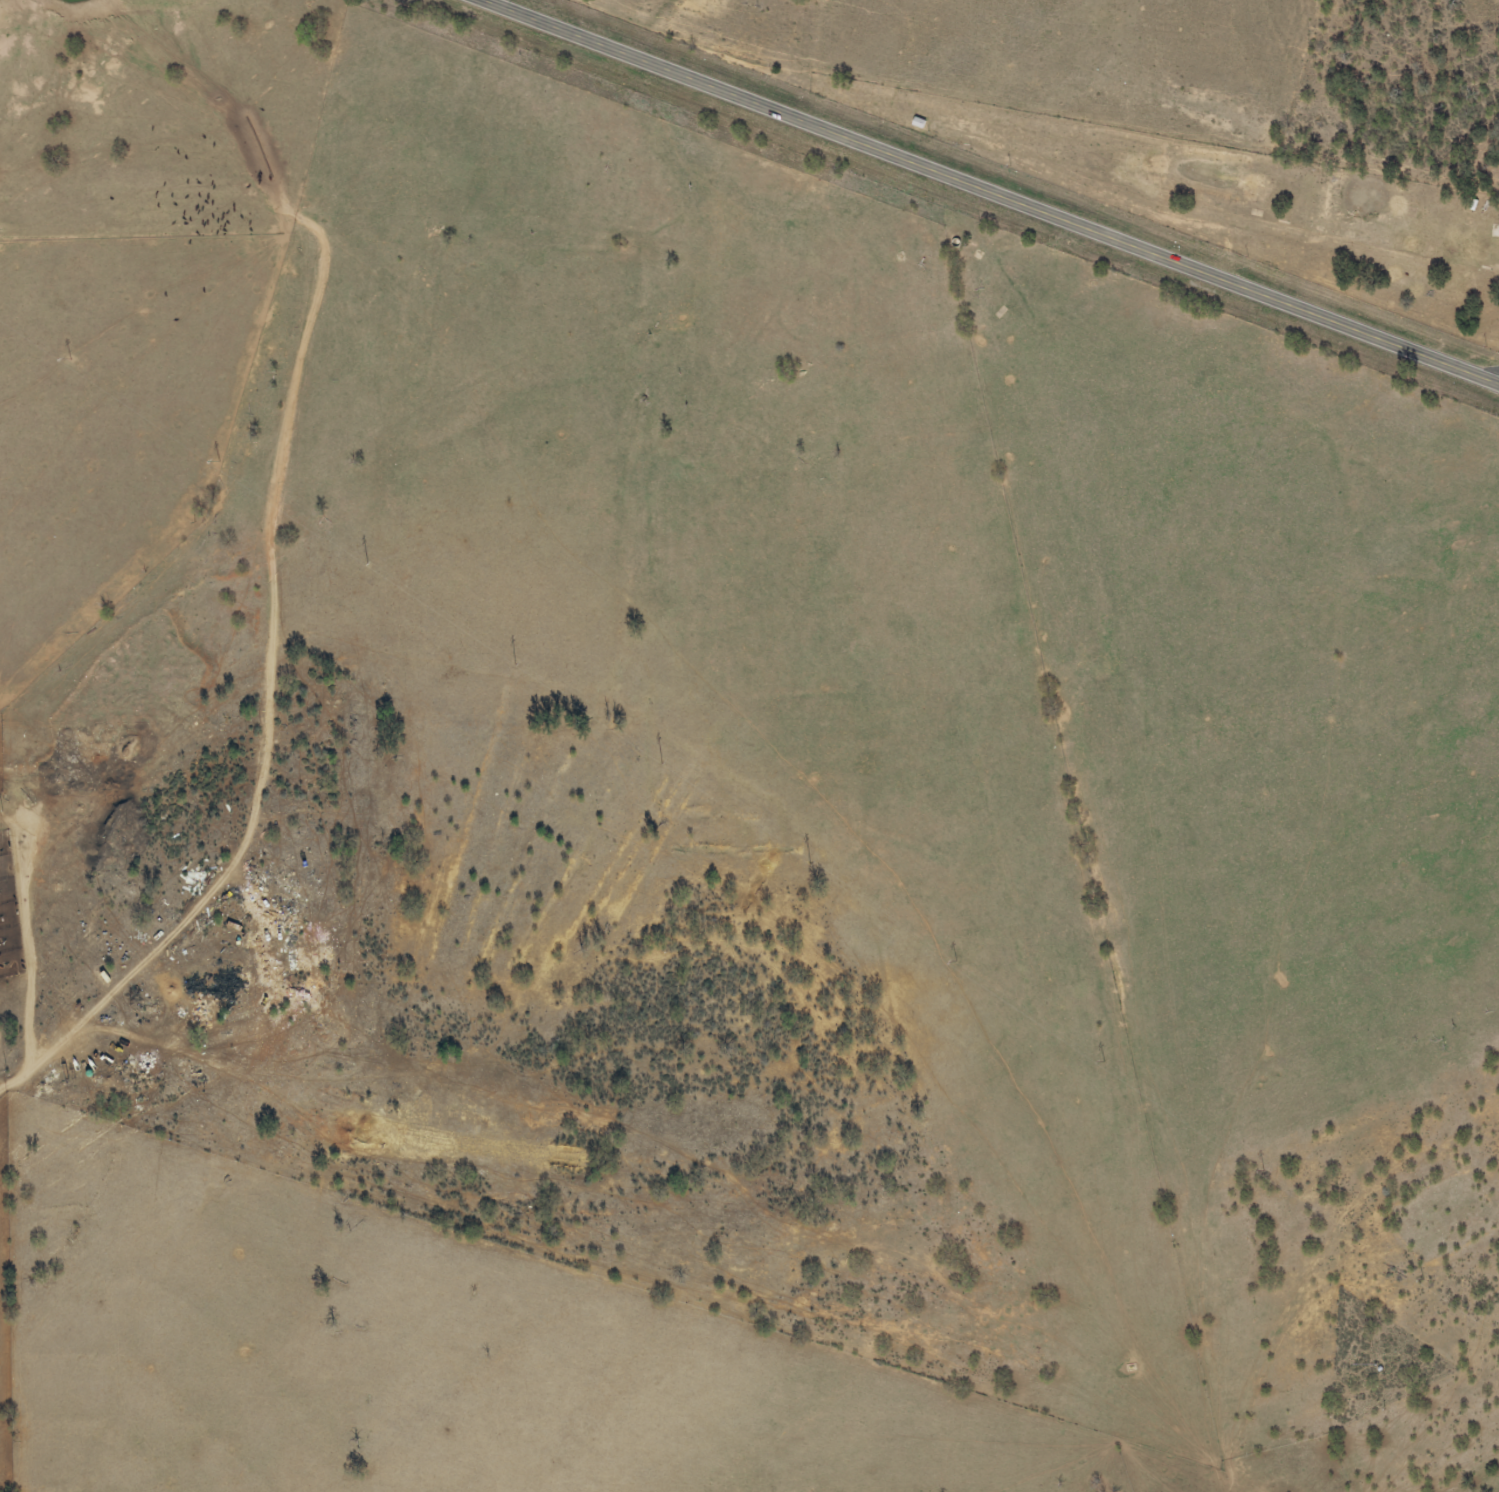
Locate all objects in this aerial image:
road: (1000, 191)

